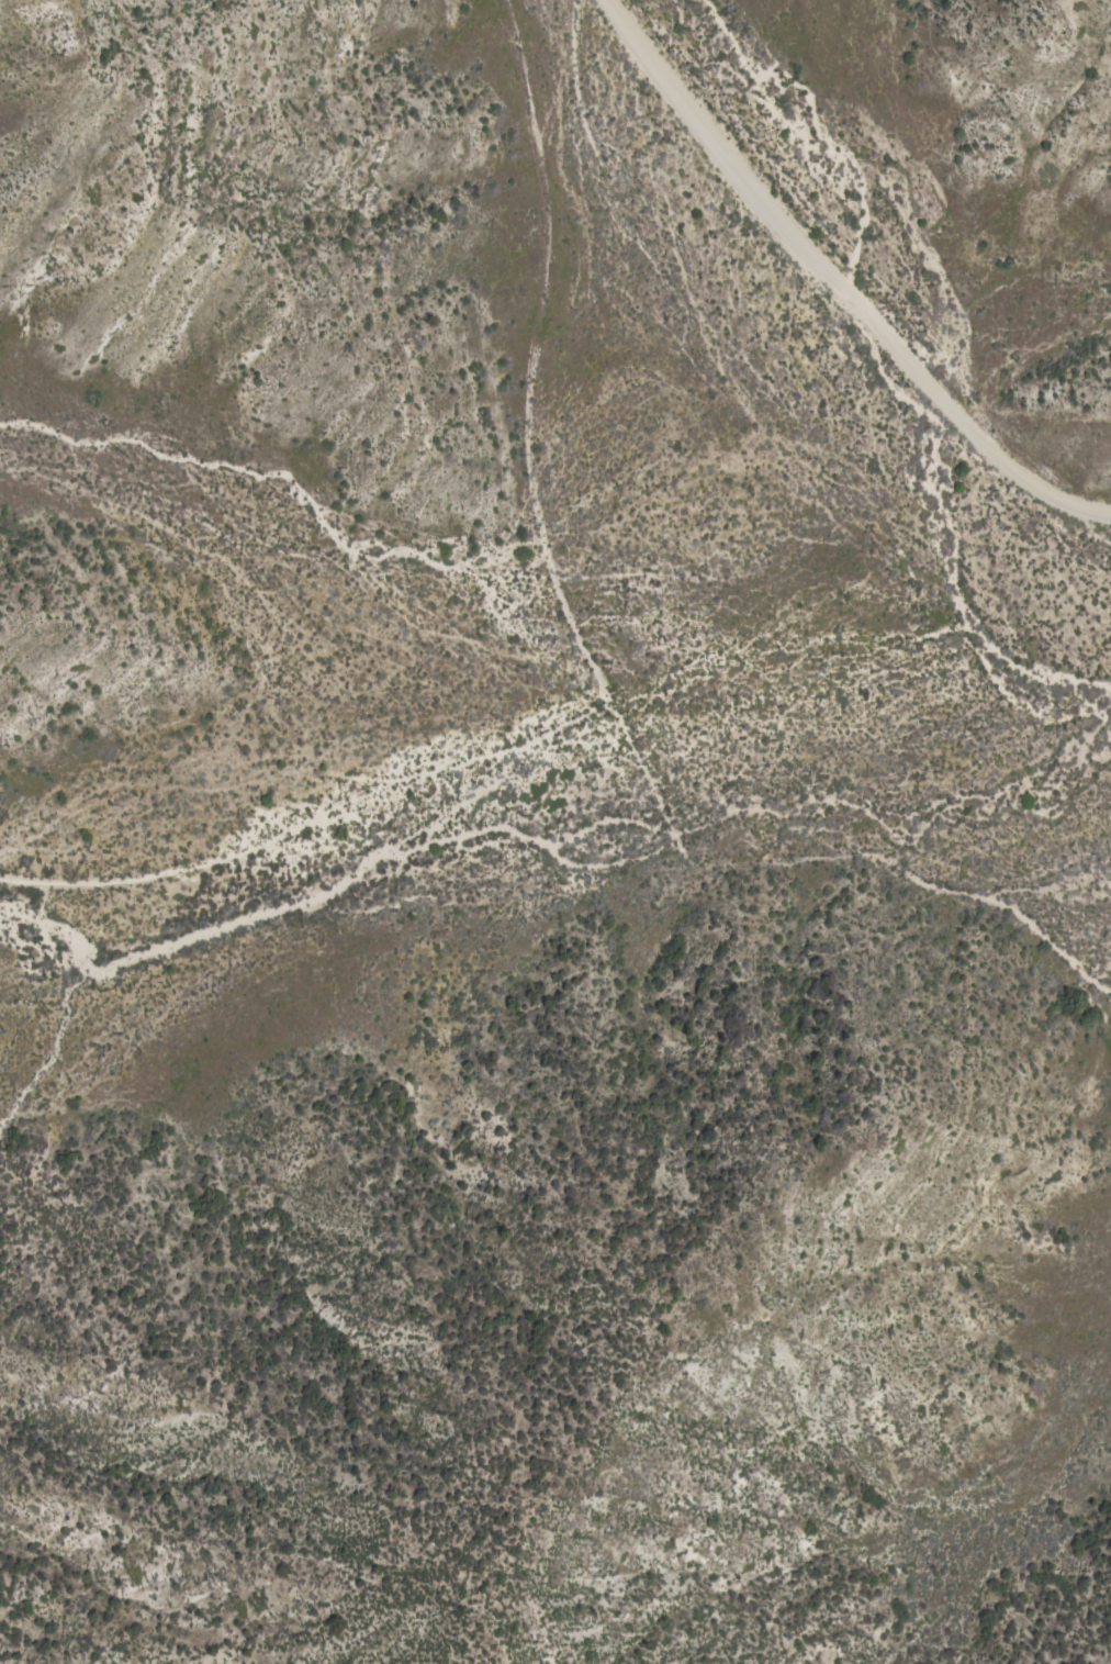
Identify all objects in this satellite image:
road: (840, 281)

